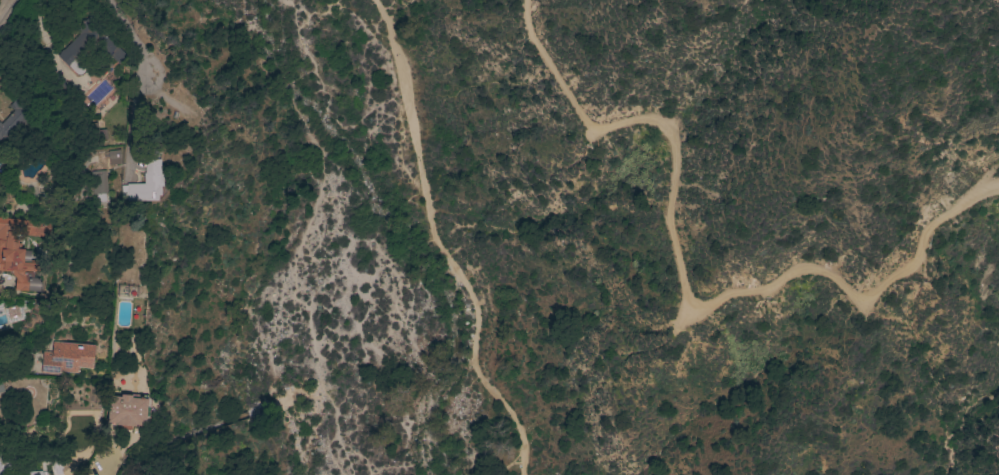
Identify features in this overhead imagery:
road: (8, 18)
road: (43, 35)
building: (75, 54)
building: (114, 158)
building: (97, 183)
building: (146, 184)
road: (436, 245)
building: (18, 254)
road: (684, 289)
building: (66, 357)
road: (19, 366)
building: (1, 385)
building: (124, 412)
road: (106, 466)
building: (37, 474)

